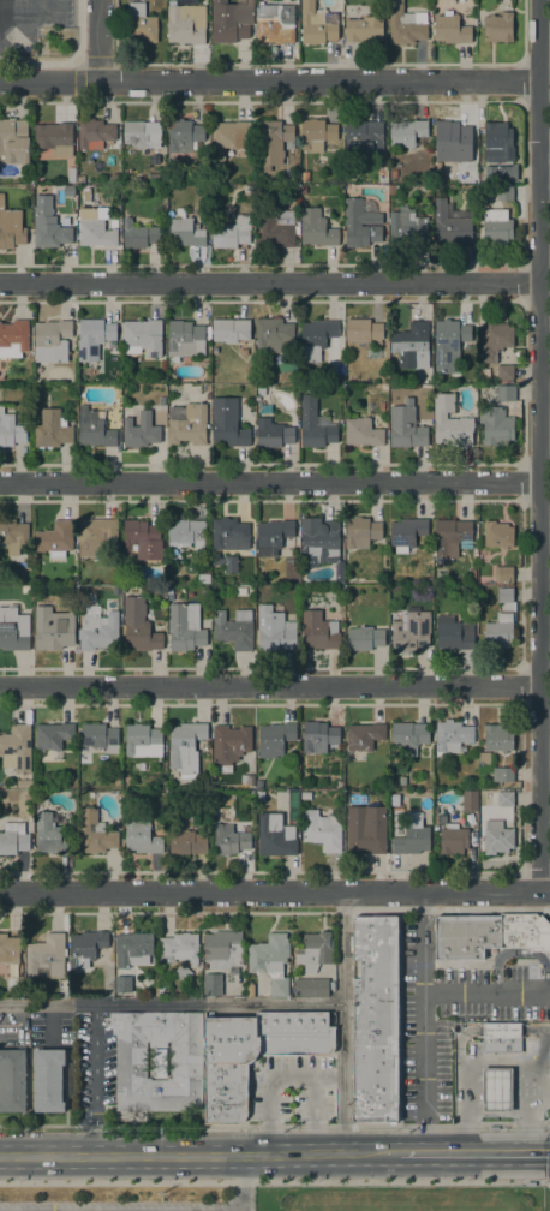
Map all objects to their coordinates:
building: (231, 20)
building: (185, 22)
building: (141, 23)
building: (275, 23)
building: (317, 24)
building: (406, 24)
building: (498, 26)
building: (450, 29)
building: (365, 30)
road: (98, 40)
road: (70, 64)
road: (269, 80)
building: (407, 132)
building: (95, 133)
building: (143, 133)
building: (183, 135)
building: (316, 135)
building: (450, 135)
building: (54, 137)
building: (363, 137)
building: (228, 138)
building: (13, 141)
building: (273, 143)
building: (497, 143)
building: (156, 157)
building: (381, 167)
building: (393, 172)
road: (544, 172)
building: (504, 173)
building: (70, 174)
building: (305, 175)
building: (116, 177)
building: (80, 179)
building: (28, 180)
building: (293, 189)
building: (391, 189)
building: (68, 190)
building: (303, 190)
building: (504, 192)
building: (361, 222)
building: (48, 225)
building: (449, 225)
building: (407, 226)
building: (11, 227)
building: (95, 227)
building: (497, 227)
building: (179, 228)
building: (275, 228)
building: (316, 228)
building: (231, 233)
building: (138, 234)
road: (268, 282)
building: (231, 329)
building: (364, 330)
building: (208, 334)
building: (274, 335)
building: (143, 336)
building: (13, 338)
building: (92, 338)
building: (317, 338)
building: (52, 340)
building: (184, 340)
building: (495, 340)
building: (448, 342)
building: (412, 345)
building: (504, 372)
building: (381, 386)
building: (185, 387)
building: (305, 387)
building: (334, 387)
building: (36, 388)
building: (261, 390)
building: (504, 393)
building: (161, 401)
building: (227, 423)
building: (450, 423)
building: (187, 424)
building: (315, 424)
building: (406, 426)
building: (496, 426)
building: (10, 429)
building: (52, 429)
building: (94, 429)
building: (141, 430)
building: (363, 432)
building: (274, 435)
road: (538, 445)
road: (269, 483)
building: (185, 530)
building: (360, 531)
building: (229, 533)
building: (406, 533)
building: (13, 535)
building: (96, 535)
building: (497, 535)
building: (273, 536)
building: (450, 537)
building: (54, 538)
building: (143, 539)
building: (319, 541)
building: (225, 561)
building: (471, 573)
building: (504, 573)
building: (38, 578)
building: (429, 580)
building: (26, 590)
building: (239, 591)
building: (504, 595)
building: (138, 626)
building: (185, 627)
building: (13, 628)
building: (234, 628)
building: (97, 630)
building: (274, 630)
building: (498, 630)
building: (318, 631)
building: (50, 632)
building: (411, 632)
building: (453, 633)
building: (364, 638)
road: (268, 686)
building: (364, 735)
building: (409, 735)
building: (452, 735)
building: (53, 736)
building: (98, 736)
building: (318, 736)
building: (498, 738)
building: (274, 739)
building: (143, 741)
building: (228, 746)
building: (16, 748)
building: (185, 748)
building: (484, 758)
building: (502, 774)
building: (402, 780)
building: (250, 781)
building: (26, 783)
building: (40, 783)
building: (259, 783)
building: (339, 785)
building: (382, 791)
building: (259, 795)
building: (503, 798)
building: (470, 800)
building: (399, 813)
building: (440, 819)
building: (366, 828)
building: (322, 830)
building: (95, 833)
building: (50, 835)
building: (275, 835)
building: (141, 836)
building: (13, 837)
building: (497, 837)
building: (229, 840)
building: (453, 840)
building: (412, 841)
building: (187, 842)
road: (534, 887)
road: (275, 891)
building: (489, 936)
building: (86, 947)
building: (179, 947)
building: (132, 949)
building: (315, 950)
building: (225, 951)
building: (10, 953)
building: (268, 954)
road: (520, 955)
building: (46, 956)
building: (183, 972)
building: (13, 983)
building: (211, 983)
building: (122, 984)
building: (330, 985)
building: (279, 986)
building: (311, 988)
road: (485, 991)
building: (250, 992)
road: (171, 1004)
road: (342, 1022)
building: (376, 1022)
road: (422, 1022)
building: (502, 1038)
building: (253, 1055)
building: (186, 1063)
road: (95, 1079)
building: (12, 1080)
building: (48, 1080)
road: (269, 1080)
building: (496, 1090)
road: (315, 1115)
road: (275, 1126)
road: (474, 1152)
road: (199, 1155)
road: (275, 1181)
road: (243, 1186)
park: (396, 1198)
road: (243, 1205)

